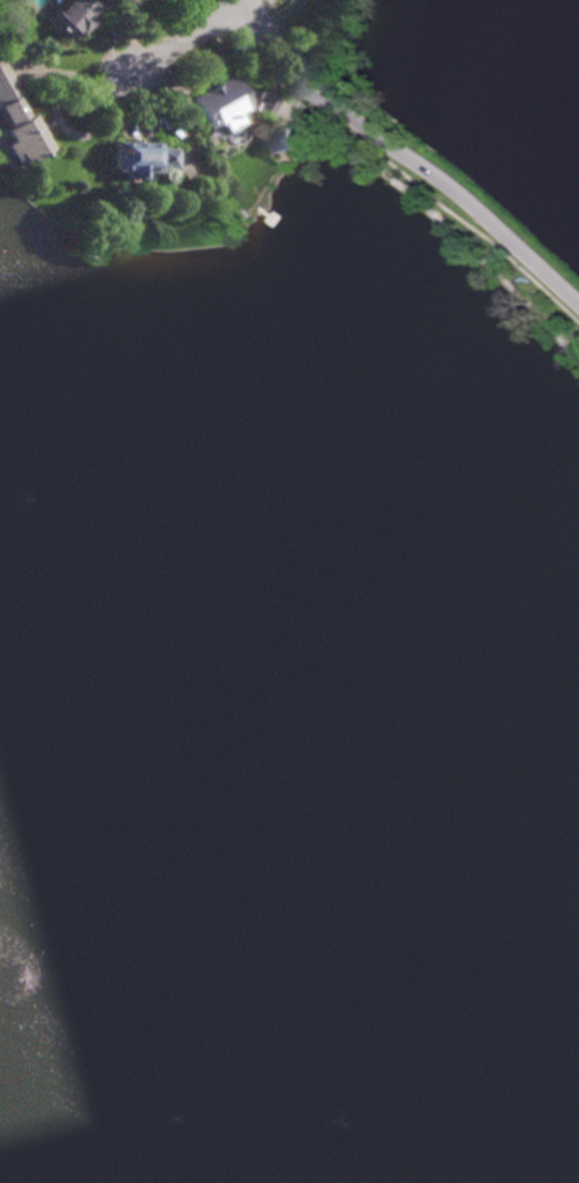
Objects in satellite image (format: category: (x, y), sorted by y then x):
building: (70, 17)
road: (188, 42)
building: (220, 104)
building: (264, 104)
building: (18, 125)
building: (287, 139)
road: (405, 154)
building: (143, 158)

